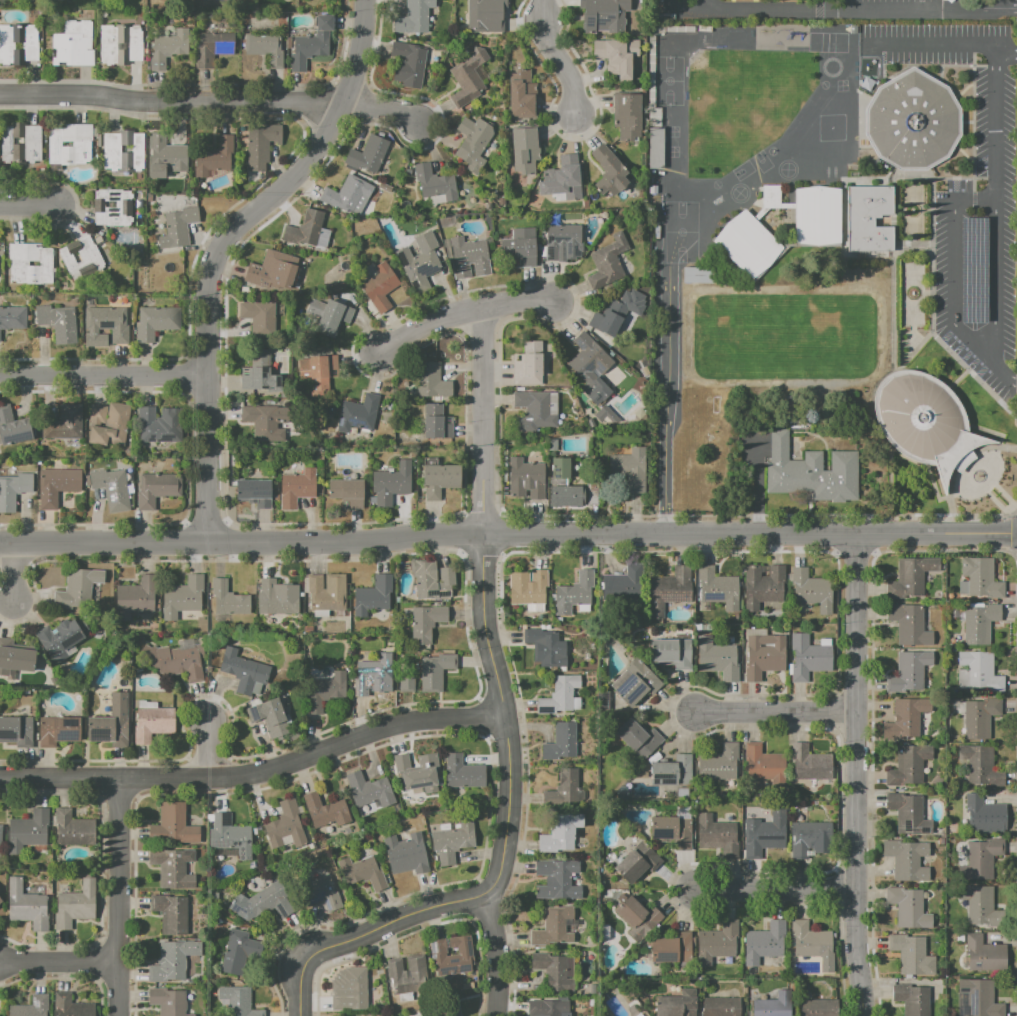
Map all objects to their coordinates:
building: (59, 0)
building: (222, 1)
building: (949, 1)
road: (703, 3)
building: (657, 6)
road: (683, 6)
road: (998, 6)
road: (860, 10)
parking lot: (684, 11)
building: (603, 15)
building: (485, 16)
building: (414, 17)
building: (663, 17)
road: (935, 41)
park: (827, 42)
building: (18, 43)
building: (121, 43)
building: (72, 44)
building: (311, 44)
building: (212, 47)
building: (265, 48)
building: (467, 48)
building: (166, 49)
road: (1006, 51)
building: (616, 56)
road: (558, 58)
building: (409, 64)
building: (468, 76)
park: (668, 81)
building: (522, 97)
road: (172, 104)
road: (383, 108)
building: (628, 117)
building: (912, 121)
road: (675, 136)
building: (20, 143)
building: (260, 145)
building: (473, 145)
building: (72, 146)
building: (654, 147)
building: (524, 149)
building: (124, 152)
building: (168, 152)
building: (367, 154)
building: (213, 157)
park: (761, 161)
park: (742, 170)
building: (408, 172)
building: (609, 172)
road: (762, 173)
building: (562, 180)
building: (435, 182)
building: (384, 187)
building: (652, 189)
building: (349, 195)
road: (972, 196)
building: (771, 197)
building: (149, 198)
road: (27, 205)
building: (125, 207)
building: (109, 208)
building: (868, 217)
building: (818, 218)
road: (994, 224)
building: (177, 228)
building: (307, 231)
building: (656, 231)
park: (679, 232)
building: (98, 239)
building: (560, 240)
building: (748, 246)
building: (519, 247)
road: (223, 248)
building: (466, 256)
building: (80, 257)
building: (419, 259)
building: (607, 262)
building: (19, 263)
building: (33, 263)
building: (972, 269)
building: (272, 270)
building: (696, 275)
building: (379, 287)
building: (623, 293)
road: (952, 294)
building: (631, 298)
road: (461, 313)
building: (328, 316)
building: (258, 317)
building: (12, 318)
building: (609, 318)
building: (155, 322)
building: (56, 323)
building: (105, 326)
park: (762, 336)
park: (726, 337)
building: (611, 354)
building: (528, 364)
building: (590, 368)
building: (644, 371)
building: (258, 372)
building: (318, 372)
road: (104, 376)
building: (430, 381)
road: (668, 384)
building: (519, 388)
building: (330, 411)
building: (534, 411)
building: (97, 414)
building: (357, 414)
building: (606, 415)
road: (482, 421)
building: (924, 421)
building: (265, 422)
building: (64, 423)
building: (436, 423)
building: (155, 425)
building: (12, 428)
building: (111, 428)
building: (552, 444)
building: (560, 468)
building: (629, 469)
building: (3, 472)
building: (810, 472)
building: (438, 478)
building: (525, 479)
building: (391, 484)
building: (56, 486)
building: (297, 488)
building: (111, 489)
building: (156, 489)
building: (13, 490)
building: (254, 492)
building: (346, 492)
building: (590, 494)
building: (567, 495)
road: (508, 537)
road: (12, 571)
building: (910, 577)
building: (981, 579)
building: (431, 580)
building: (622, 584)
building: (763, 586)
building: (528, 588)
building: (77, 589)
building: (718, 589)
building: (668, 590)
building: (812, 590)
building: (324, 592)
building: (574, 593)
building: (374, 594)
building: (182, 597)
building: (134, 598)
building: (229, 598)
building: (277, 598)
building: (980, 622)
building: (426, 624)
building: (909, 625)
building: (60, 639)
building: (545, 647)
building: (672, 652)
building: (763, 656)
building: (808, 658)
building: (718, 659)
building: (14, 660)
building: (173, 662)
building: (241, 670)
building: (435, 670)
building: (909, 672)
building: (977, 673)
building: (371, 674)
building: (406, 683)
building: (634, 683)
building: (323, 691)
building: (561, 696)
road: (776, 710)
building: (269, 716)
building: (906, 719)
building: (978, 719)
building: (110, 723)
building: (153, 723)
building: (57, 731)
building: (15, 732)
building: (638, 738)
building: (560, 742)
road: (208, 750)
building: (719, 763)
building: (811, 763)
building: (909, 765)
building: (978, 765)
building: (766, 766)
building: (416, 771)
building: (673, 771)
building: (464, 772)
road: (256, 773)
road: (856, 775)
building: (369, 790)
building: (564, 790)
building: (322, 809)
building: (984, 813)
building: (908, 814)
building: (172, 827)
building: (284, 827)
building: (73, 828)
building: (674, 828)
building: (28, 829)
building: (0, 832)
building: (560, 833)
building: (718, 835)
building: (765, 835)
building: (230, 836)
building: (809, 838)
road: (504, 841)
building: (453, 842)
building: (406, 854)
building: (907, 859)
building: (980, 859)
building: (636, 862)
building: (174, 868)
building: (361, 873)
building: (556, 880)
road: (775, 891)
building: (321, 894)
road: (117, 896)
building: (0, 901)
building: (269, 902)
building: (25, 904)
building: (76, 905)
building: (979, 905)
building: (909, 908)
building: (172, 915)
building: (638, 916)
building: (553, 927)
building: (716, 942)
building: (764, 942)
building: (813, 944)
building: (672, 948)
building: (237, 952)
building: (983, 953)
road: (495, 954)
building: (910, 955)
building: (450, 957)
building: (172, 960)
road: (58, 963)
building: (553, 973)
building: (406, 974)
building: (352, 994)
building: (980, 997)
building: (911, 999)
building: (166, 1001)
building: (239, 1001)
building: (678, 1004)
building: (774, 1005)
building: (721, 1006)
building: (32, 1007)
building: (551, 1007)
building: (818, 1007)
building: (74, 1008)
building: (439, 1010)
building: (639, 1014)

